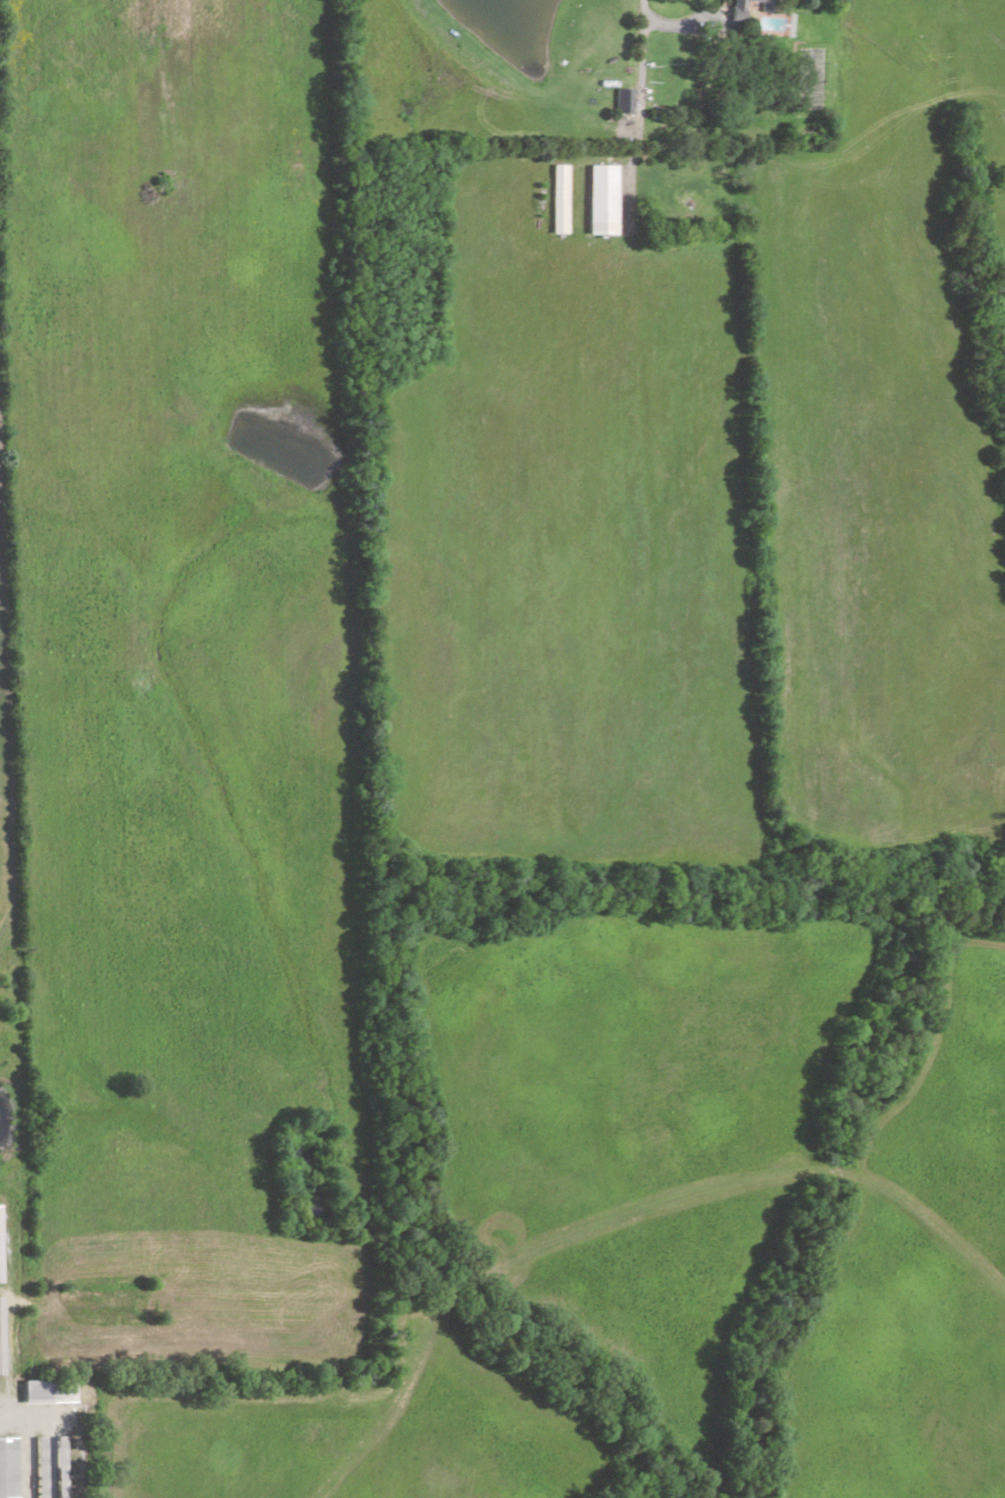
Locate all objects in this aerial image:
building: (763, 4)
building: (735, 12)
building: (624, 99)
building: (559, 197)
building: (602, 197)
building: (0, 1332)
building: (47, 1388)
building: (40, 1464)
building: (7, 1466)

